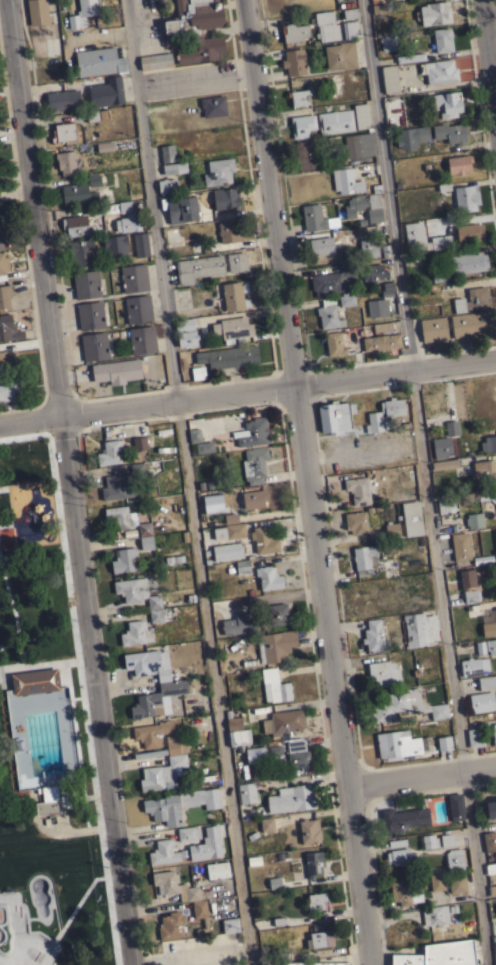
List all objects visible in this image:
building: (378, 6)
building: (38, 12)
building: (82, 13)
building: (351, 13)
building: (434, 13)
building: (326, 26)
building: (195, 30)
building: (350, 30)
building: (295, 32)
building: (443, 39)
building: (388, 42)
road: (489, 48)
building: (341, 55)
building: (410, 57)
building: (99, 61)
building: (156, 61)
building: (294, 62)
building: (439, 72)
building: (390, 78)
road: (195, 79)
building: (106, 92)
building: (300, 97)
building: (63, 100)
building: (447, 104)
building: (213, 106)
building: (92, 115)
building: (360, 115)
building: (335, 121)
building: (302, 125)
building: (63, 132)
building: (451, 132)
building: (421, 133)
building: (359, 145)
building: (104, 146)
building: (167, 153)
building: (305, 155)
building: (66, 162)
building: (459, 164)
building: (174, 168)
building: (218, 171)
building: (346, 181)
building: (166, 185)
building: (80, 191)
building: (225, 197)
building: (465, 197)
building: (354, 205)
building: (373, 208)
building: (181, 209)
building: (132, 216)
building: (317, 218)
building: (75, 225)
building: (229, 231)
building: (469, 232)
building: (414, 235)
building: (1, 237)
building: (352, 237)
building: (441, 242)
building: (141, 244)
building: (116, 245)
building: (323, 245)
building: (367, 248)
building: (385, 248)
building: (81, 252)
building: (346, 253)
building: (236, 261)
building: (468, 262)
building: (2, 264)
building: (198, 267)
building: (346, 276)
building: (438, 277)
building: (134, 278)
building: (86, 284)
building: (387, 289)
building: (4, 295)
building: (234, 296)
building: (346, 298)
building: (183, 299)
building: (472, 299)
building: (377, 307)
building: (138, 308)
building: (90, 314)
building: (328, 314)
building: (471, 324)
building: (382, 326)
building: (232, 327)
building: (433, 328)
building: (9, 329)
building: (187, 332)
building: (142, 339)
building: (381, 342)
building: (333, 344)
building: (94, 346)
building: (228, 356)
building: (8, 360)
building: (116, 371)
building: (198, 372)
building: (6, 389)
road: (247, 392)
building: (374, 415)
building: (335, 416)
building: (451, 428)
building: (250, 433)
building: (194, 435)
building: (139, 443)
building: (490, 443)
building: (202, 446)
building: (441, 447)
building: (110, 452)
building: (444, 464)
building: (254, 465)
building: (137, 469)
building: (485, 469)
building: (411, 473)
road: (71, 482)
road: (187, 482)
road: (309, 482)
road: (426, 482)
building: (116, 487)
building: (362, 489)
building: (487, 495)
building: (254, 498)
building: (213, 503)
building: (446, 504)
building: (231, 518)
building: (412, 518)
building: (126, 519)
building: (474, 520)
building: (356, 521)
building: (392, 530)
building: (229, 531)
building: (495, 532)
building: (263, 540)
building: (146, 542)
building: (460, 546)
building: (227, 551)
building: (495, 552)
building: (364, 558)
building: (124, 559)
building: (243, 566)
building: (389, 568)
building: (268, 578)
building: (415, 581)
building: (468, 585)
building: (136, 591)
building: (248, 598)
building: (278, 613)
building: (155, 615)
building: (240, 623)
building: (419, 628)
building: (489, 629)
building: (136, 633)
building: (373, 635)
building: (275, 645)
building: (491, 646)
building: (146, 664)
building: (474, 666)
building: (384, 673)
building: (0, 678)
building: (33, 681)
building: (487, 682)
building: (274, 686)
building: (157, 699)
building: (482, 701)
building: (406, 706)
building: (233, 721)
building: (283, 721)
building: (152, 733)
building: (494, 734)
park: (42, 735)
building: (239, 737)
building: (475, 737)
building: (444, 743)
building: (175, 744)
building: (397, 745)
building: (276, 752)
building: (255, 754)
building: (297, 754)
building: (163, 773)
road: (421, 777)
building: (247, 793)
building: (291, 798)
building: (52, 800)
building: (180, 804)
building: (455, 804)
building: (491, 809)
building: (403, 819)
building: (266, 824)
building: (309, 831)
building: (186, 833)
building: (446, 840)
building: (429, 841)
building: (489, 841)
building: (207, 844)
building: (163, 852)
building: (401, 856)
building: (454, 860)
building: (314, 863)
building: (490, 868)
building: (217, 869)
building: (437, 881)
building: (272, 883)
building: (457, 883)
building: (177, 887)
building: (492, 890)
building: (405, 892)
building: (316, 901)
building: (495, 906)
building: (439, 913)
building: (200, 917)
building: (171, 925)
building: (230, 925)
building: (320, 939)
park: (28, 942)
building: (440, 954)
building: (314, 963)
building: (495, 964)

